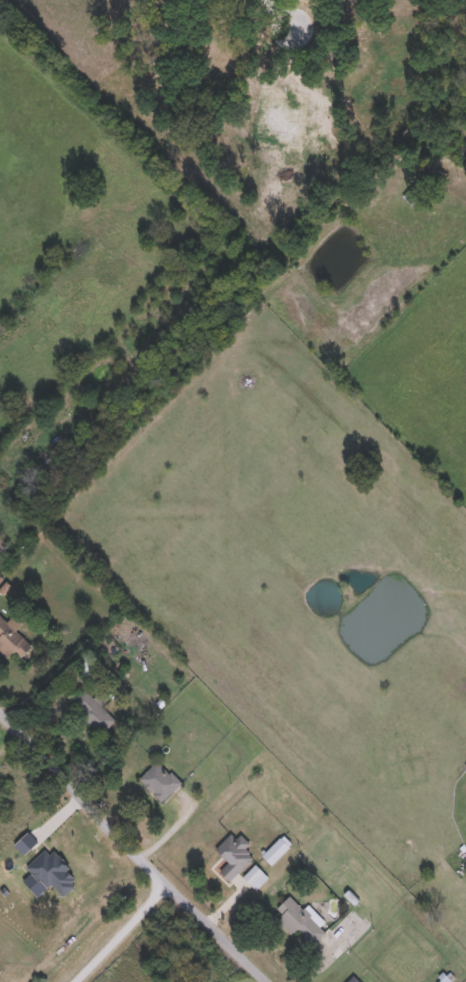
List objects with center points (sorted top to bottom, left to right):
road: (277, 13)
building: (411, 193)
building: (2, 542)
building: (12, 637)
building: (85, 663)
building: (92, 710)
building: (159, 779)
road: (79, 790)
building: (276, 849)
building: (234, 854)
building: (255, 876)
building: (300, 919)
road: (216, 927)
road: (121, 930)
building: (355, 978)
building: (444, 979)

